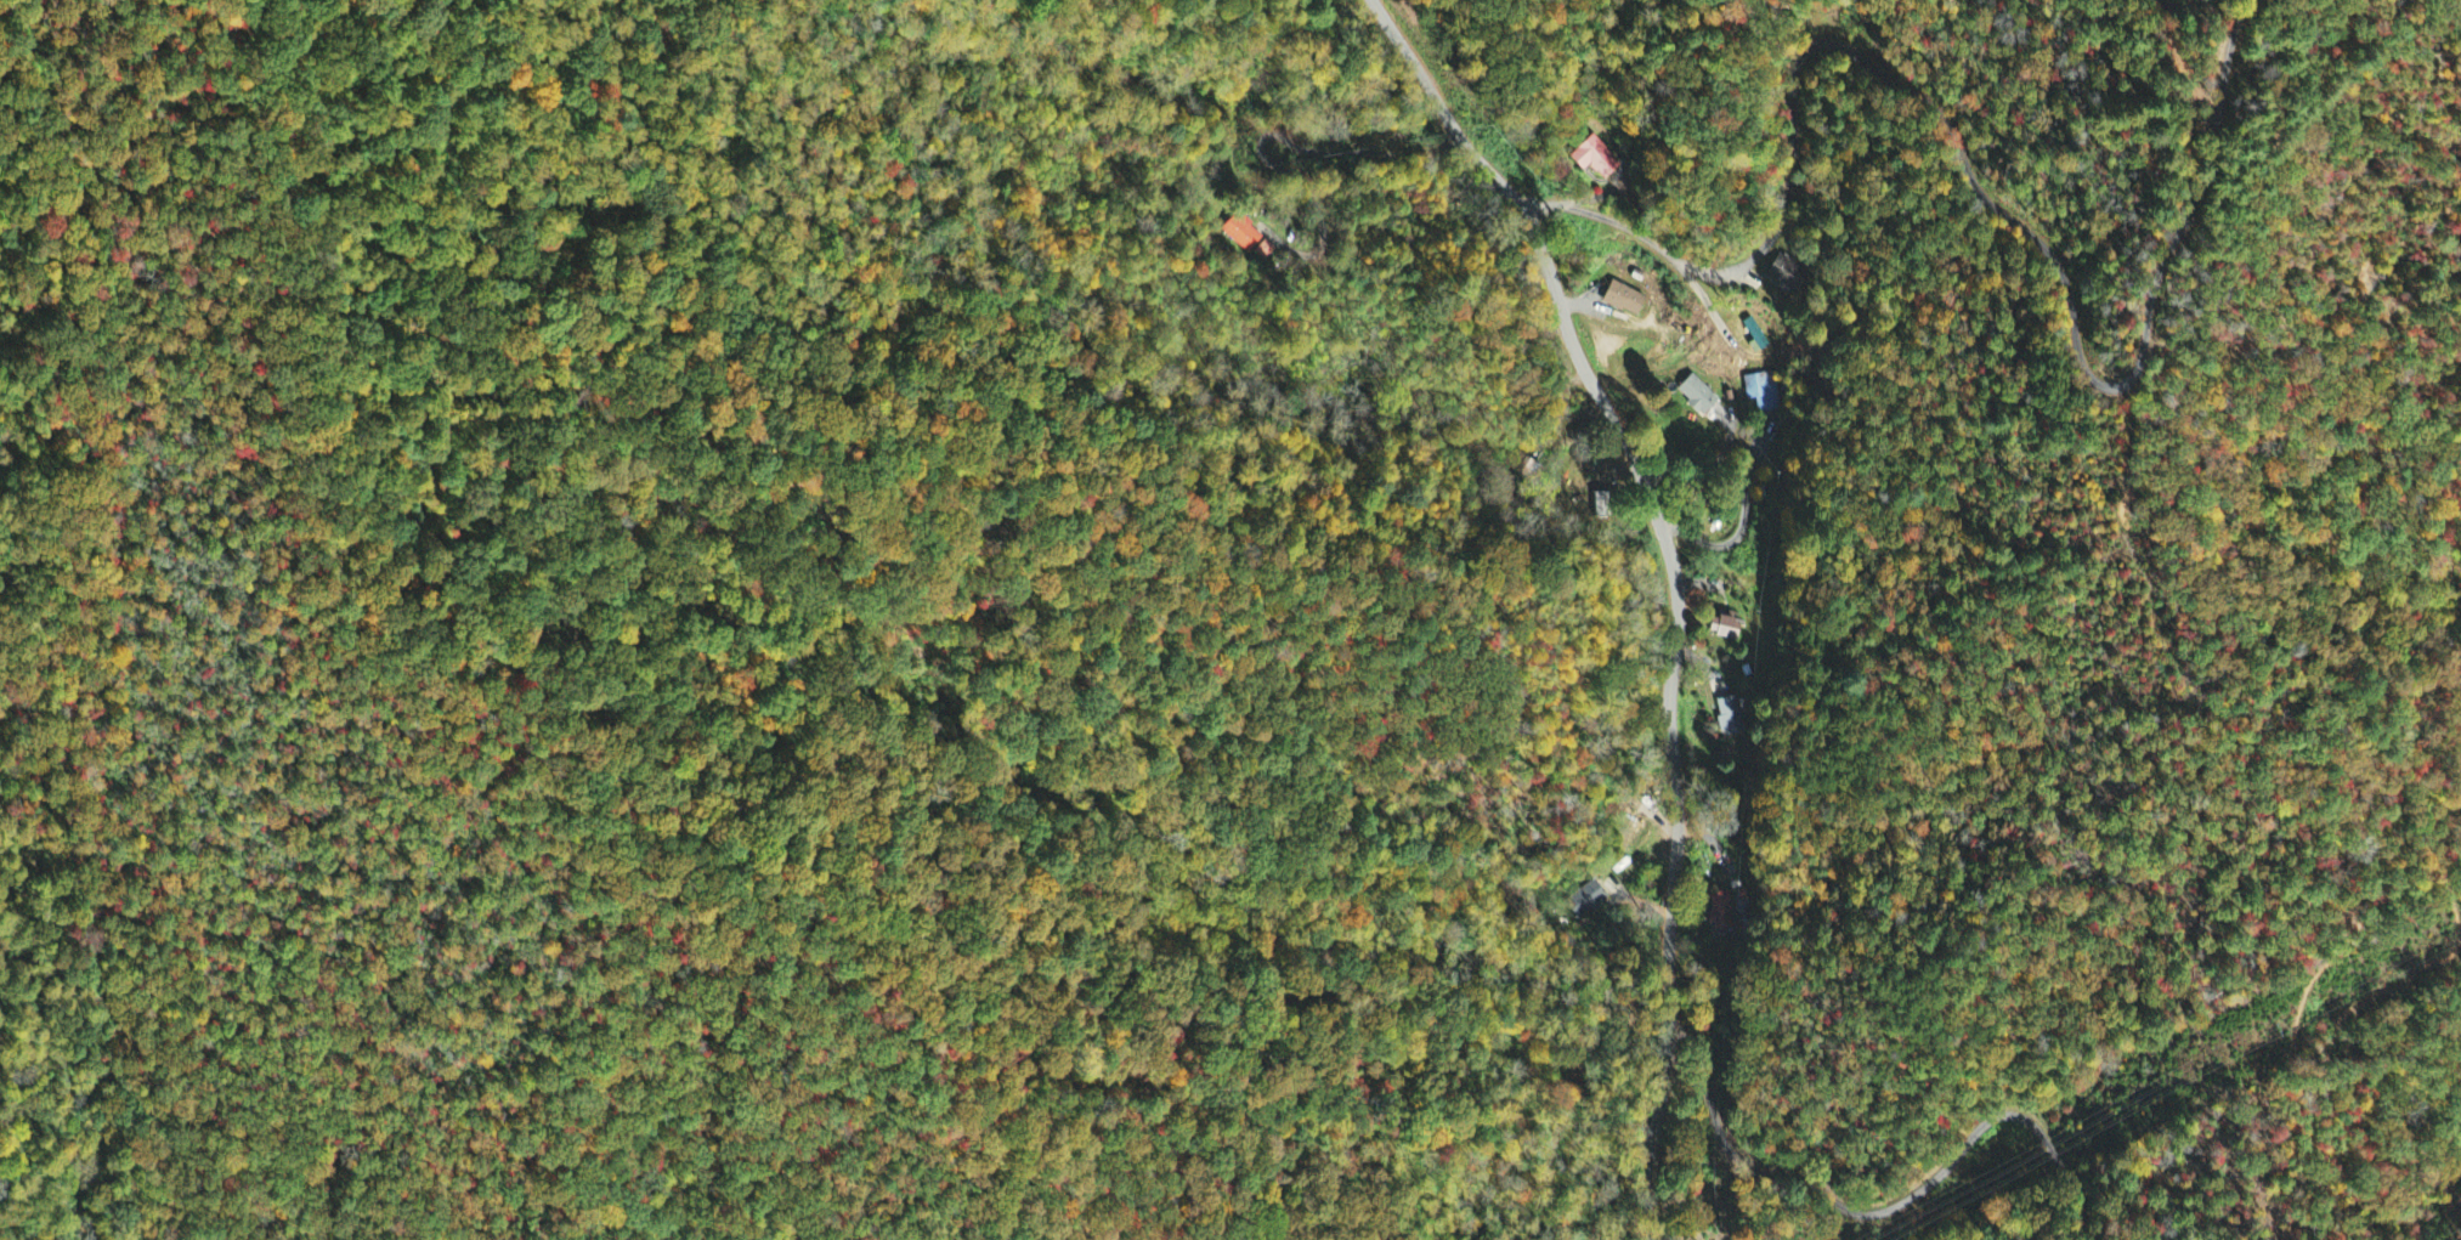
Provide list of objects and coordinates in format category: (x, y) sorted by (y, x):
road: (2318, 111)
building: (1596, 159)
road: (1976, 172)
building: (1243, 234)
building: (1783, 272)
building: (1623, 299)
building: (1697, 396)
road: (2132, 429)
road: (1675, 582)
building: (1722, 629)
building: (1729, 717)
road: (2332, 830)
building: (1585, 901)
road: (1884, 1211)

